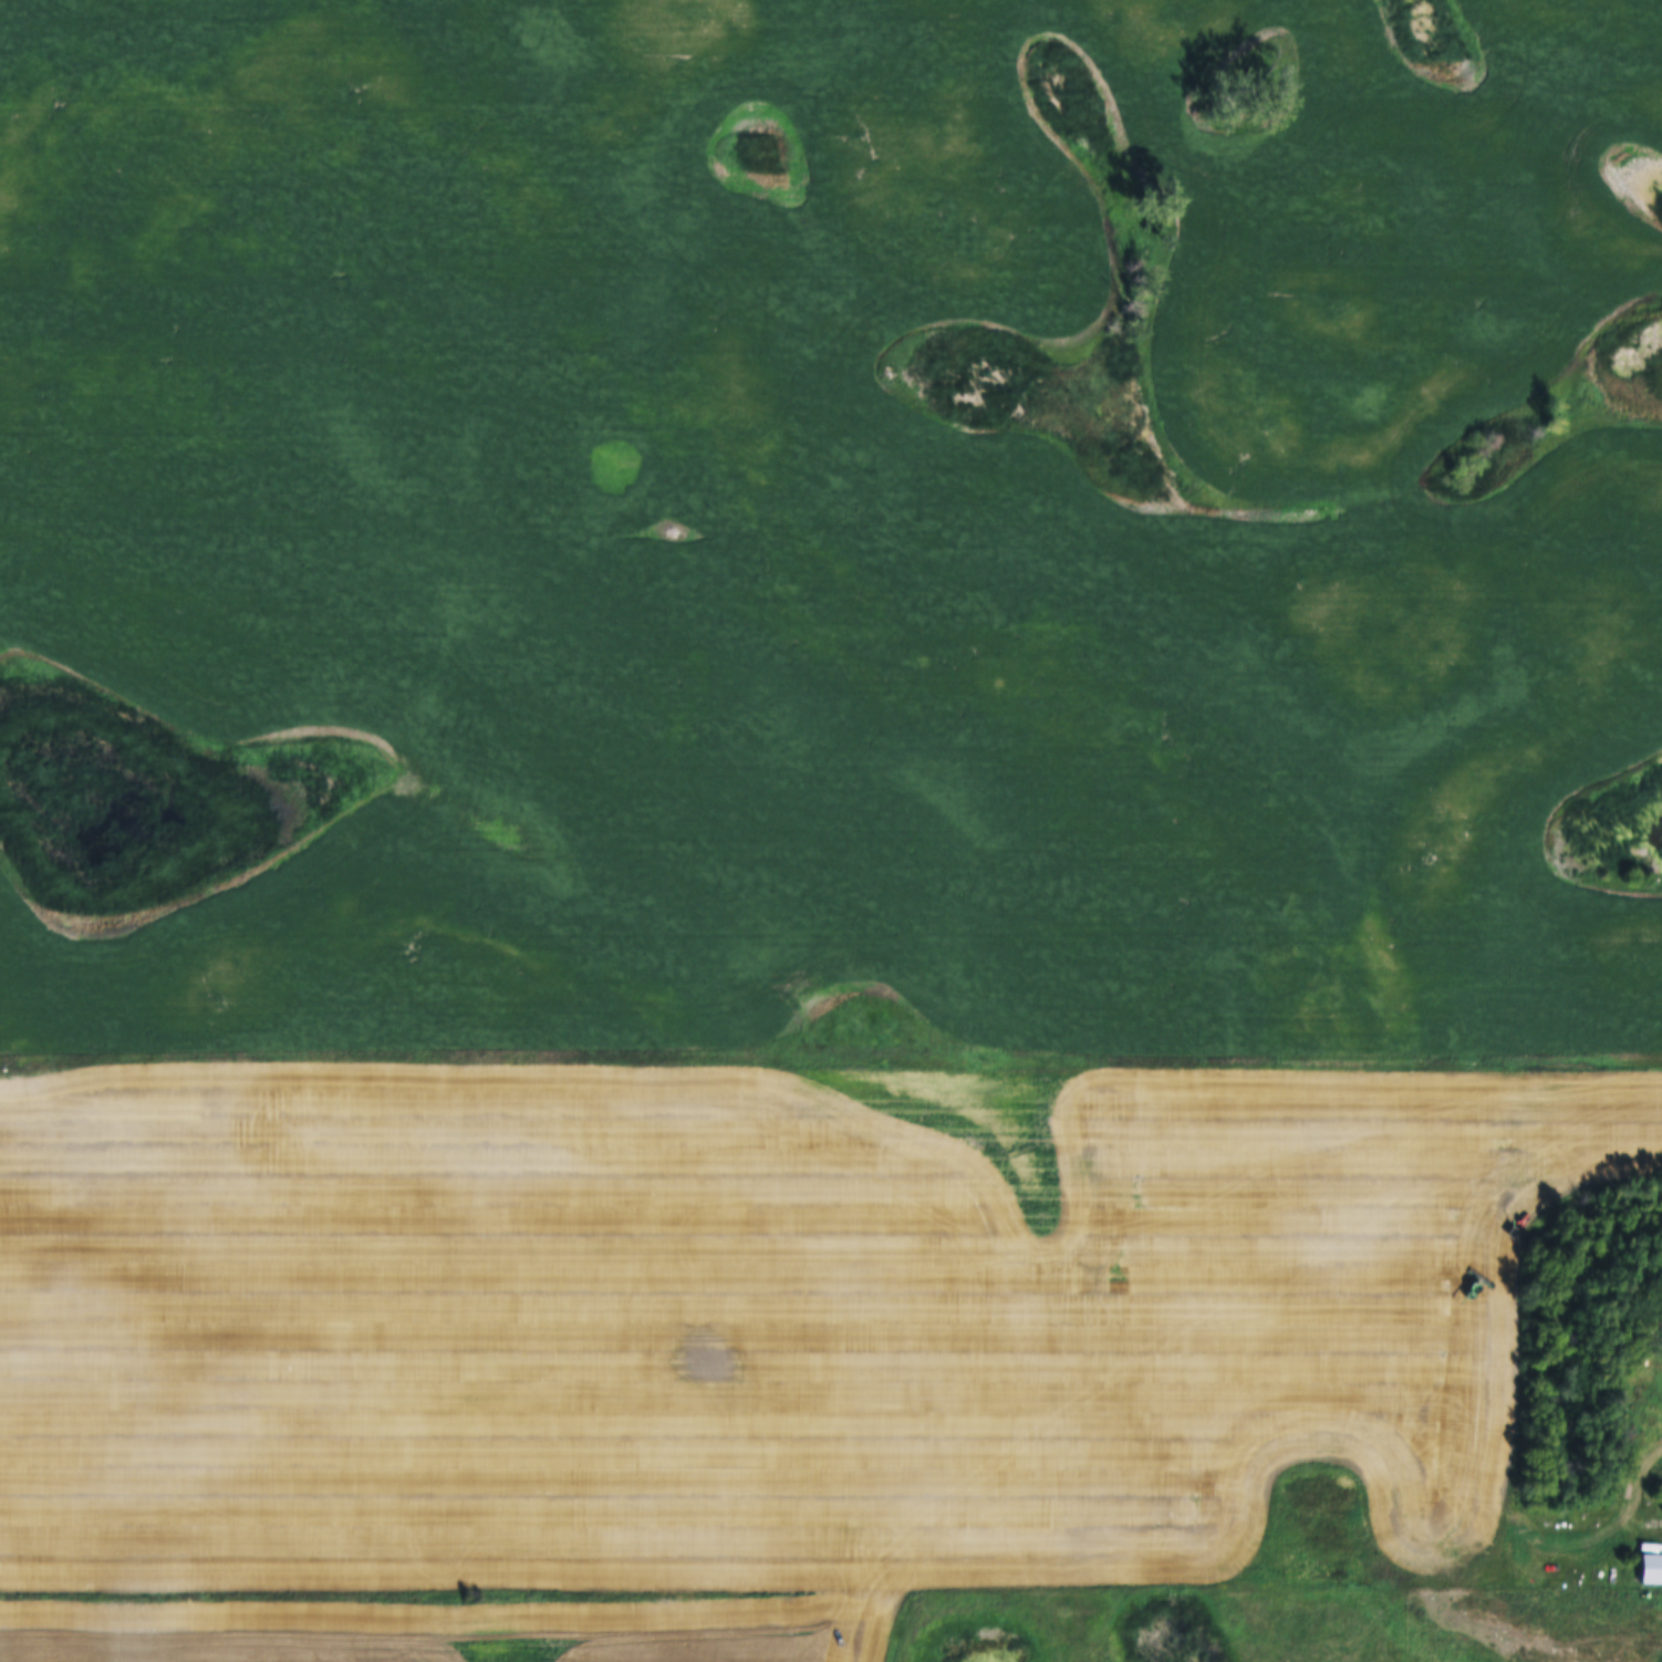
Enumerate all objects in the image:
building: (1659, 1503)
building: (1653, 1559)

